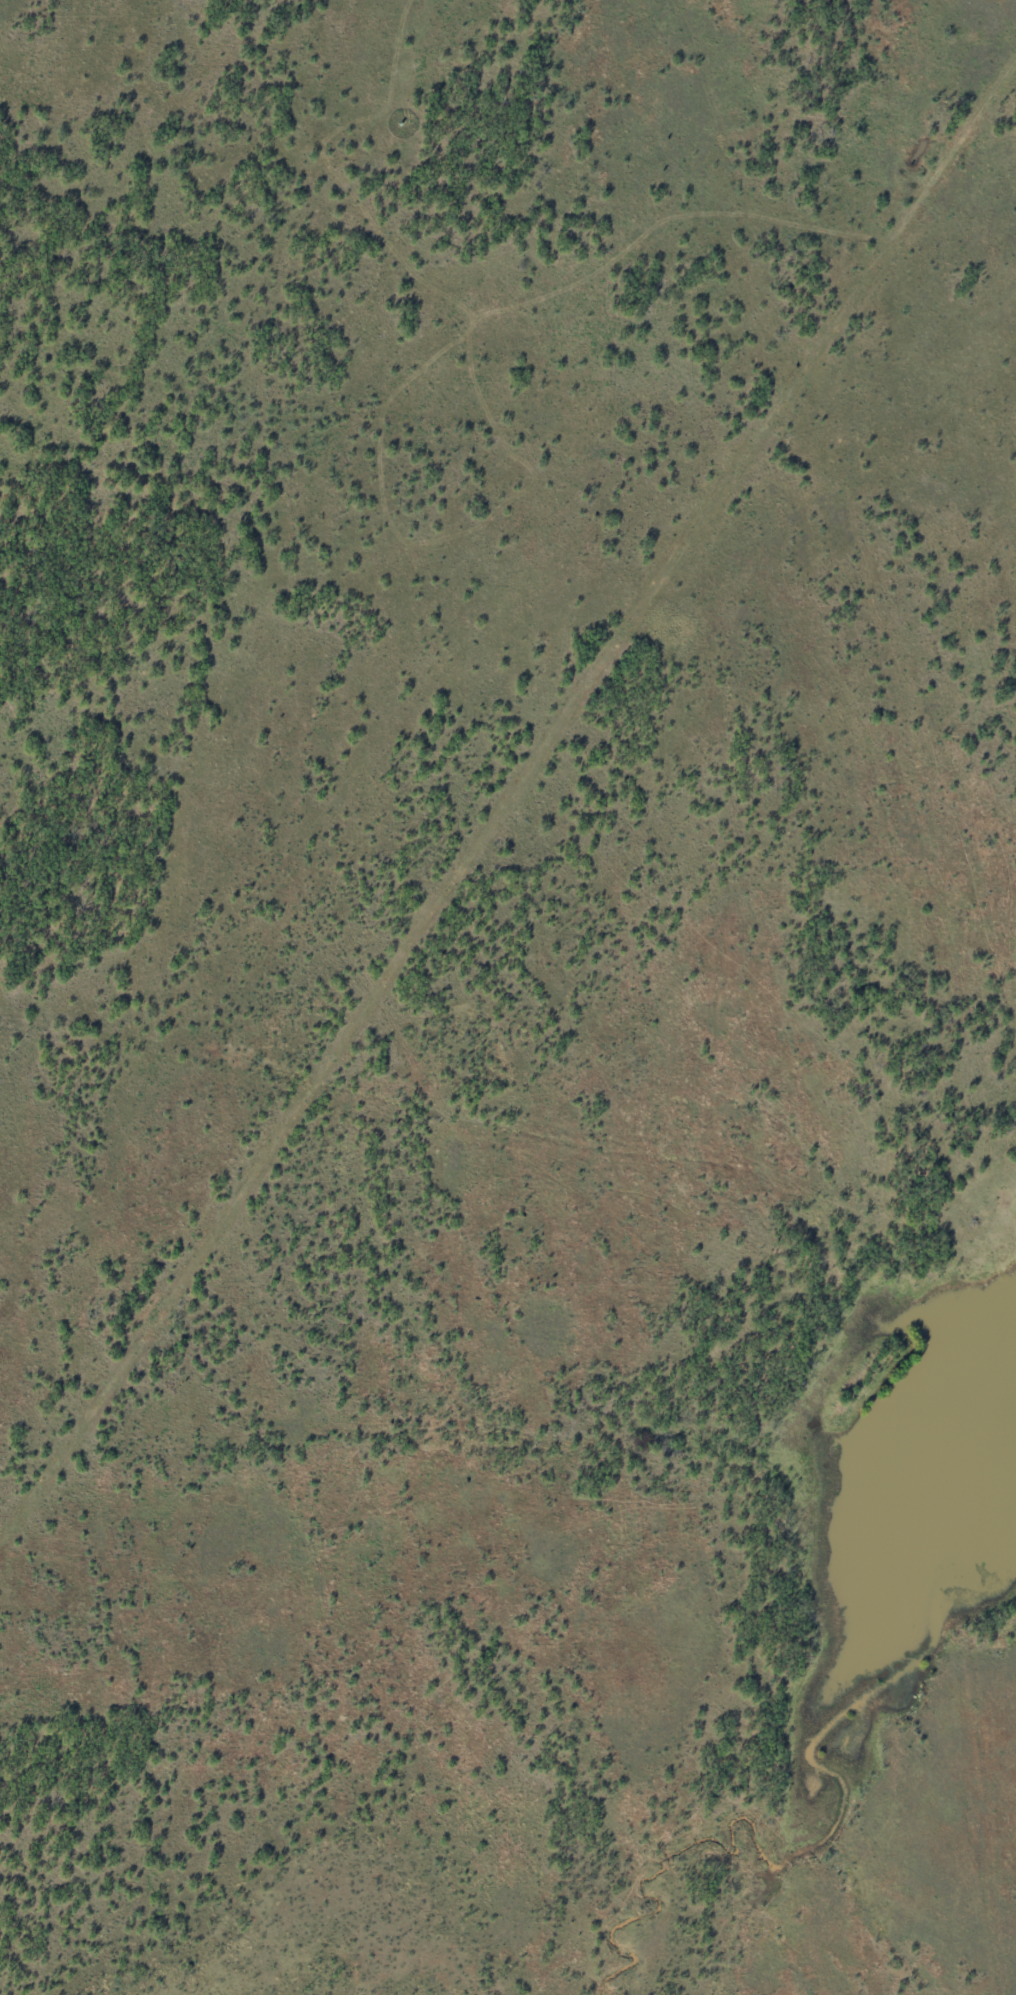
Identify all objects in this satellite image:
road: (722, 687)

